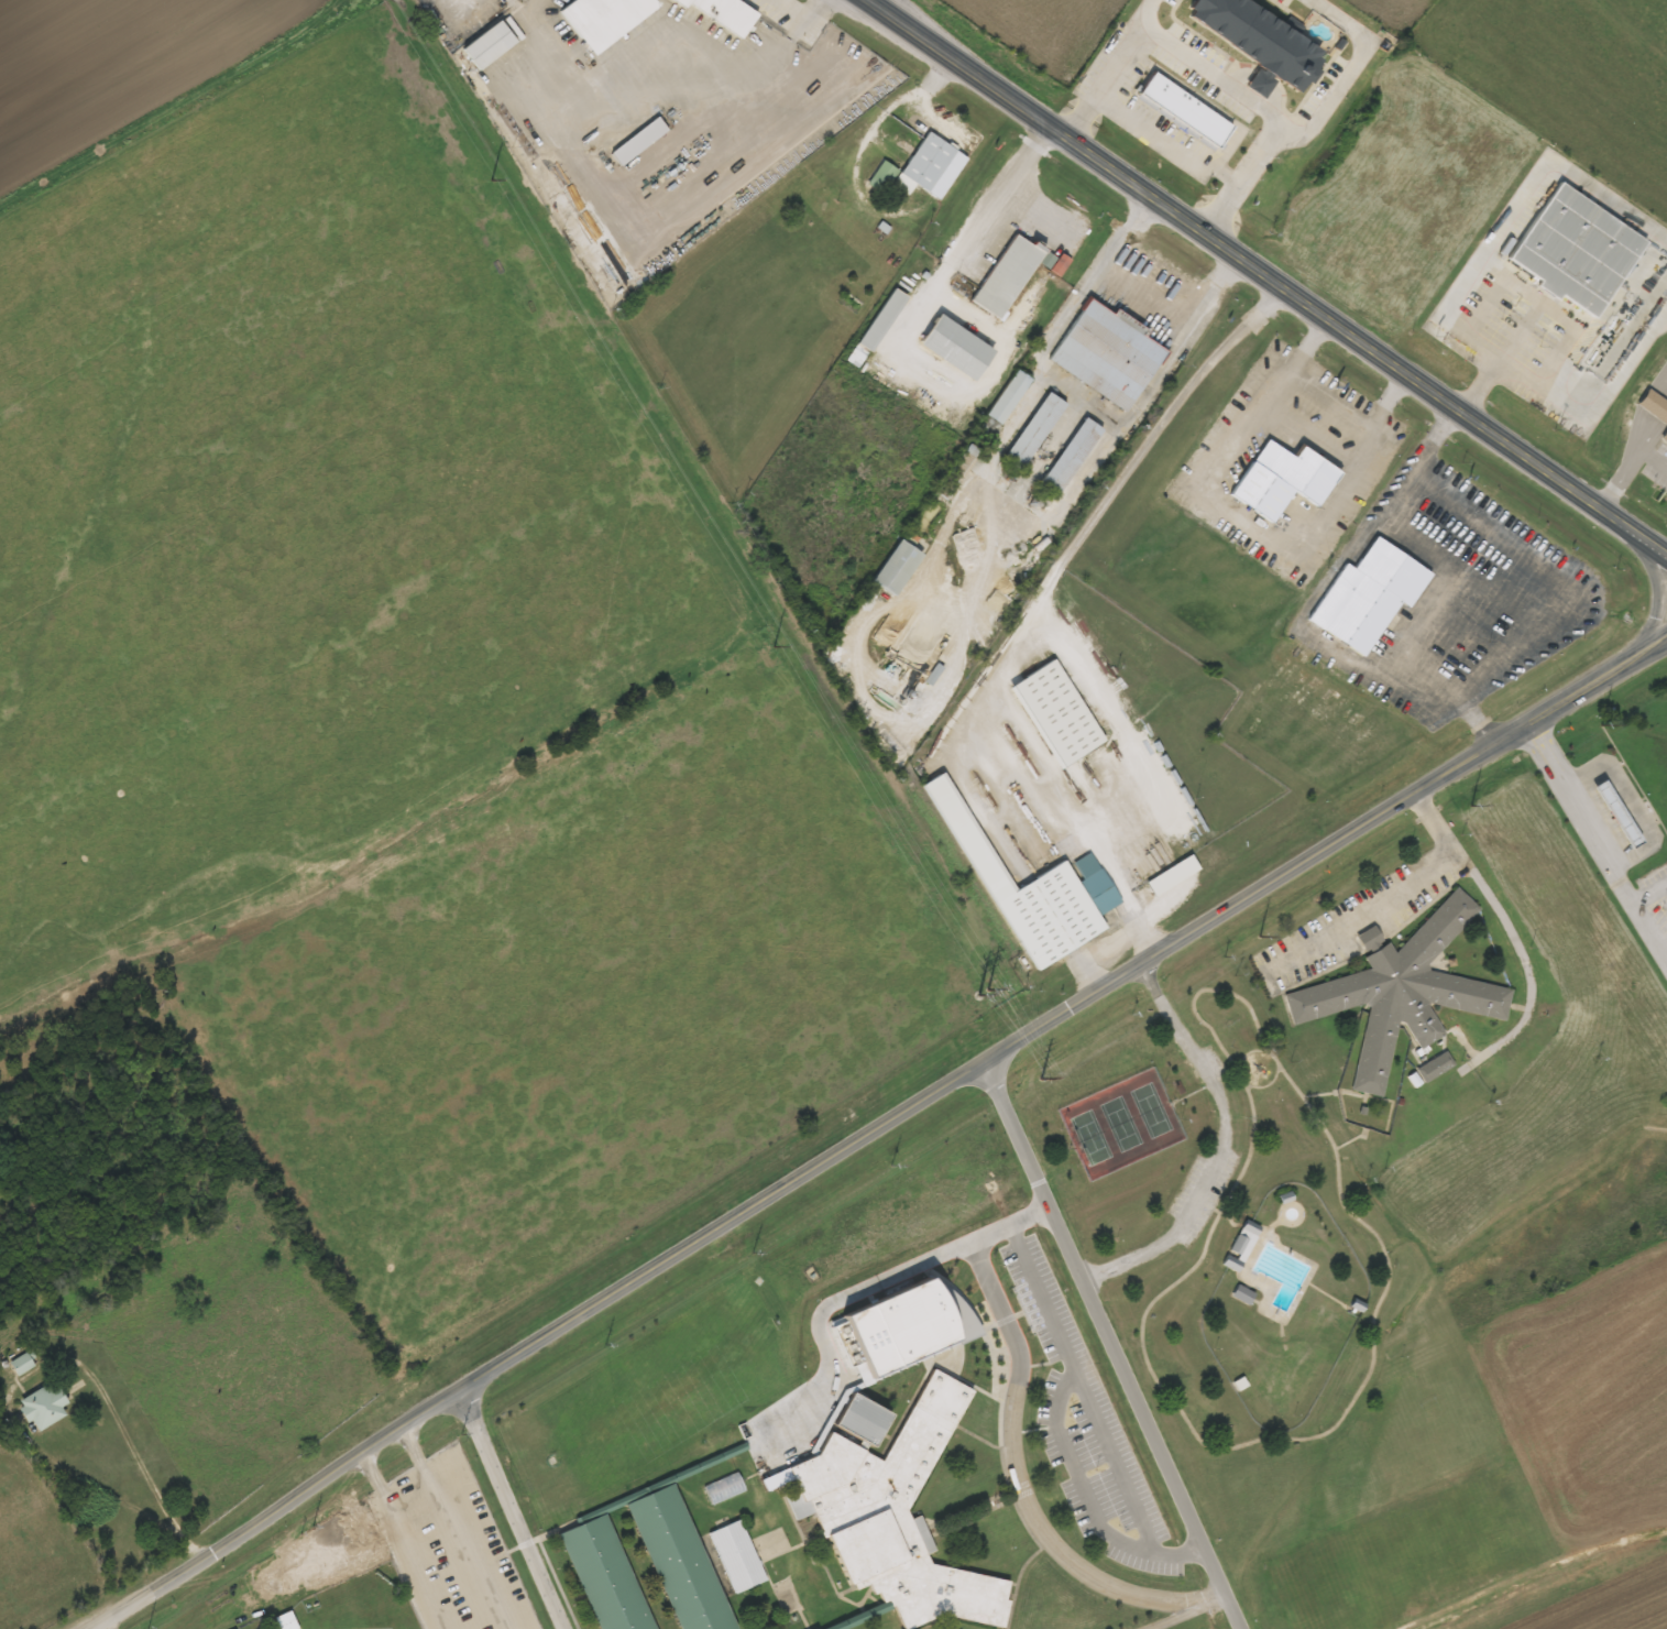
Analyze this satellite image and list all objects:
building: (602, 25)
building: (1262, 36)
building: (490, 45)
building: (1262, 83)
building: (1186, 108)
building: (639, 141)
building: (915, 167)
power tower: (491, 178)
building: (1579, 250)
building: (919, 267)
building: (1008, 275)
road: (1270, 276)
building: (877, 328)
building: (958, 347)
building: (1109, 353)
building: (1005, 404)
building: (1655, 405)
building: (1035, 430)
building: (1665, 438)
building: (1073, 456)
building: (958, 471)
building: (1284, 480)
building: (899, 567)
road: (1653, 584)
building: (1369, 595)
power tower: (772, 645)
road: (1638, 657)
building: (1057, 713)
power tower: (1600, 724)
power tower: (1470, 805)
road: (1595, 841)
building: (1173, 875)
building: (1034, 890)
power tower: (1258, 936)
building: (1370, 939)
power tower: (984, 991)
building: (1403, 993)
building: (1435, 1068)
power tower: (1040, 1079)
road: (908, 1106)
road: (1008, 1226)
building: (1240, 1247)
road: (823, 1311)
building: (892, 1342)
road: (1108, 1345)
building: (22, 1364)
road: (1081, 1390)
building: (44, 1406)
parking lot: (1085, 1431)
road: (1017, 1471)
building: (723, 1487)
road: (1087, 1501)
building: (893, 1507)
road: (511, 1509)
road: (449, 1527)
road: (404, 1539)
parking lot: (449, 1546)
building: (737, 1554)
building: (679, 1560)
building: (604, 1574)
stadium: (348, 1605)
road: (122, 1609)
road: (1183, 1610)
building: (286, 1621)
road: (106, 1625)

